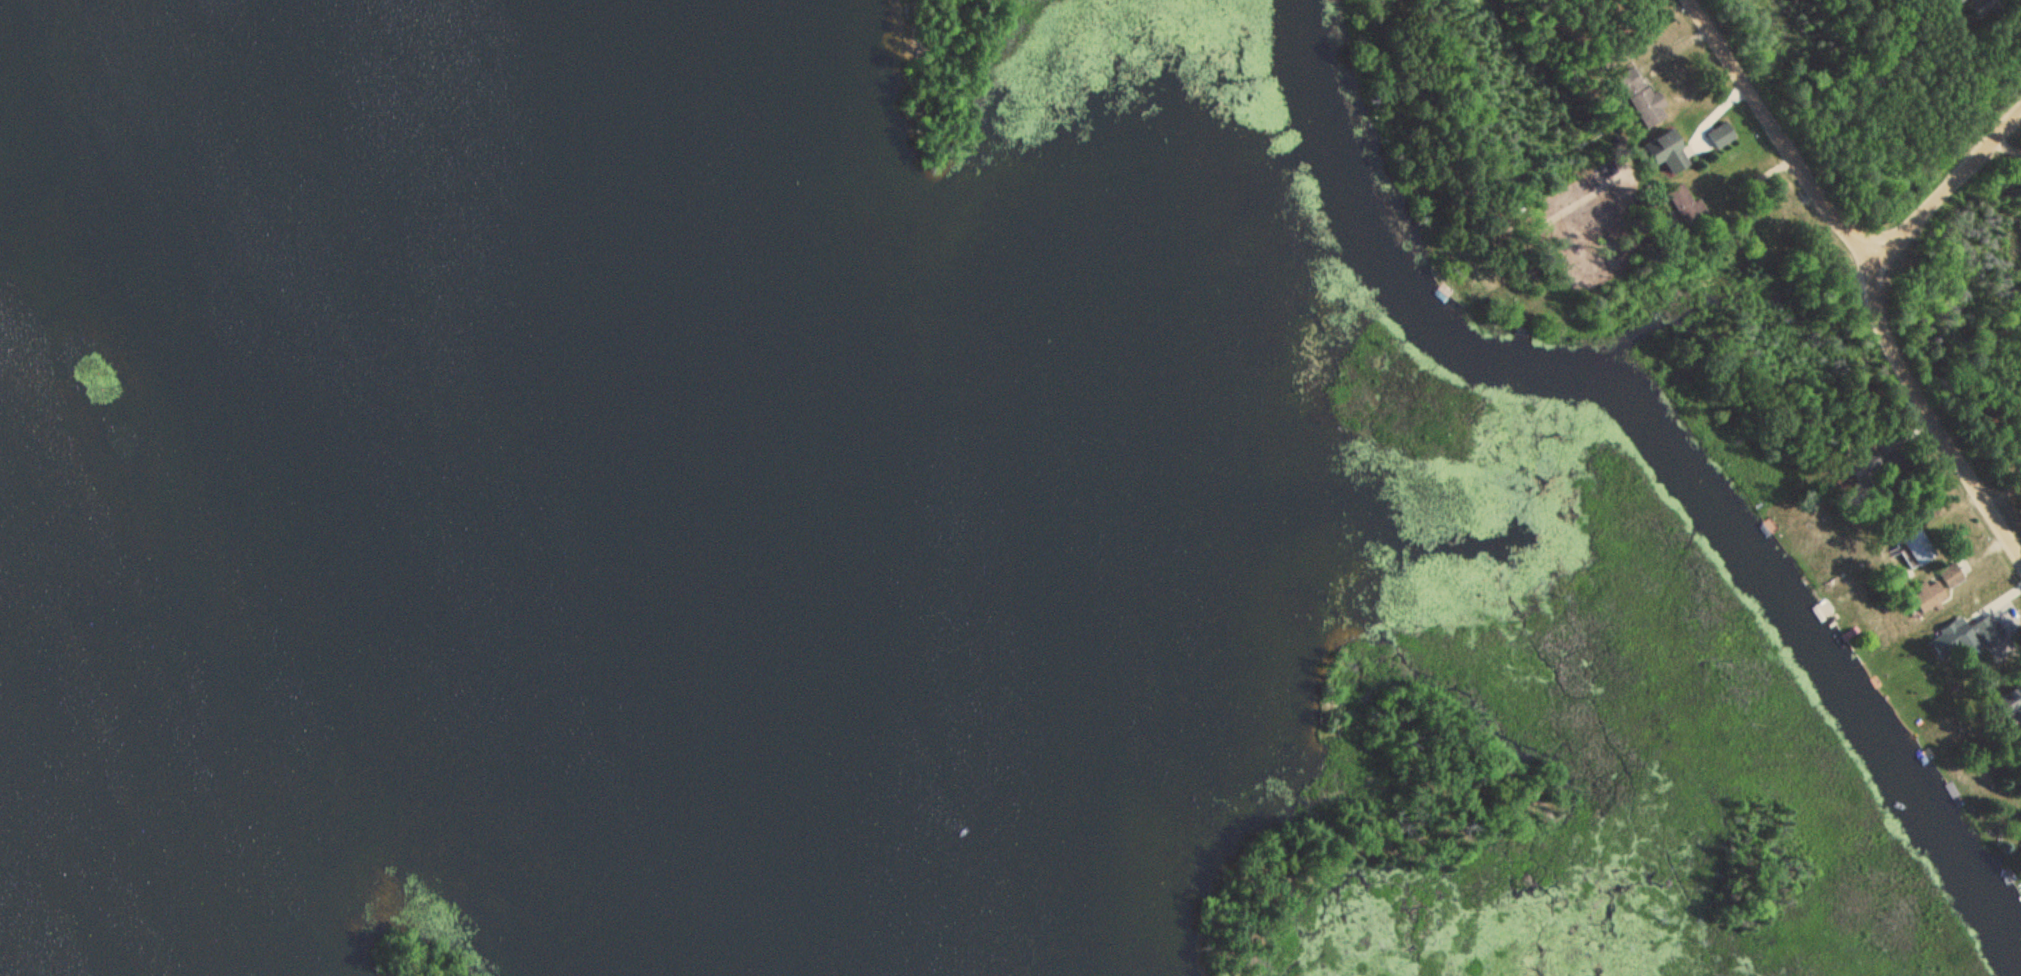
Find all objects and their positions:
building: (1982, 6)
building: (1644, 102)
building: (1668, 149)
road: (1942, 192)
road: (1865, 270)
building: (1918, 549)
building: (1951, 576)
building: (1928, 597)
building: (1960, 636)

